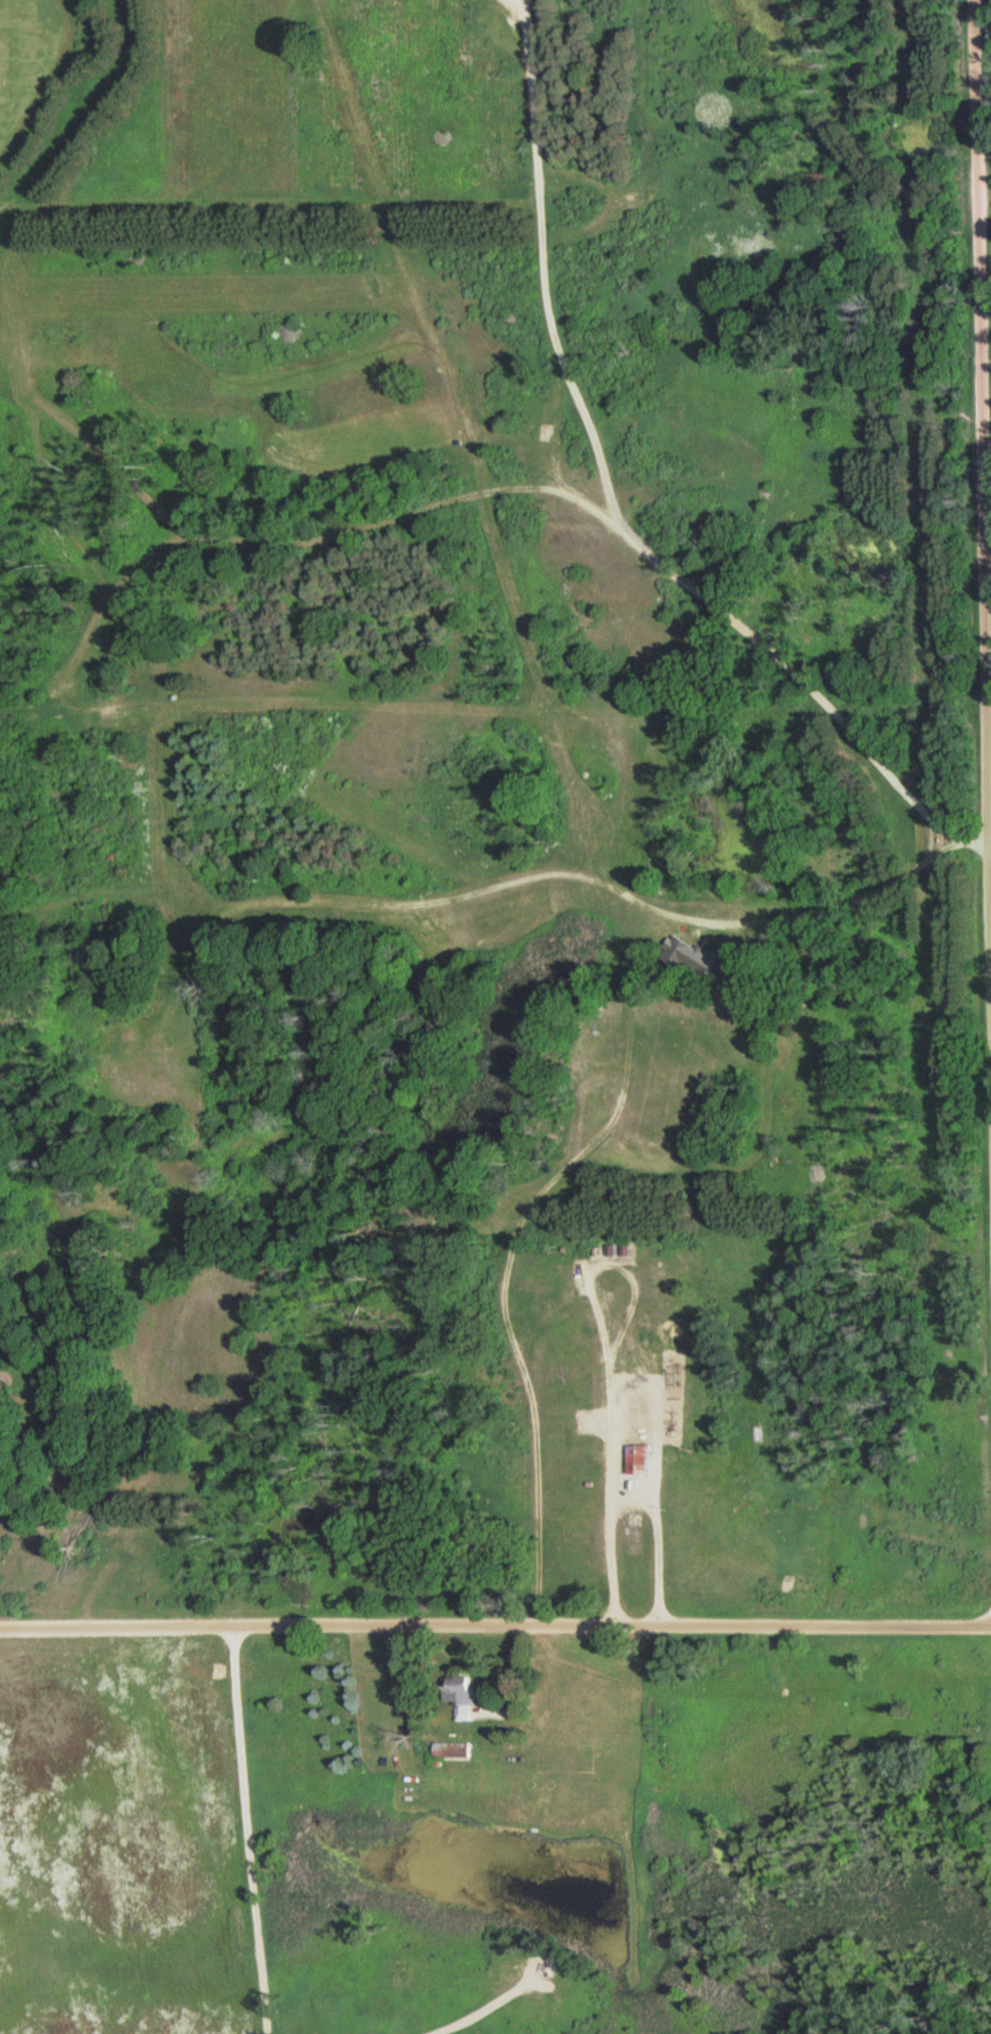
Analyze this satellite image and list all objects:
road: (545, 274)
road: (984, 329)
road: (454, 500)
traffic signals: (232, 544)
road: (990, 567)
road: (571, 874)
road: (516, 1338)
road: (617, 1446)
building: (640, 1460)
road: (495, 1630)
building: (469, 1692)
building: (453, 1750)
road: (254, 1832)
petroleum well: (527, 1970)
road: (489, 2005)

